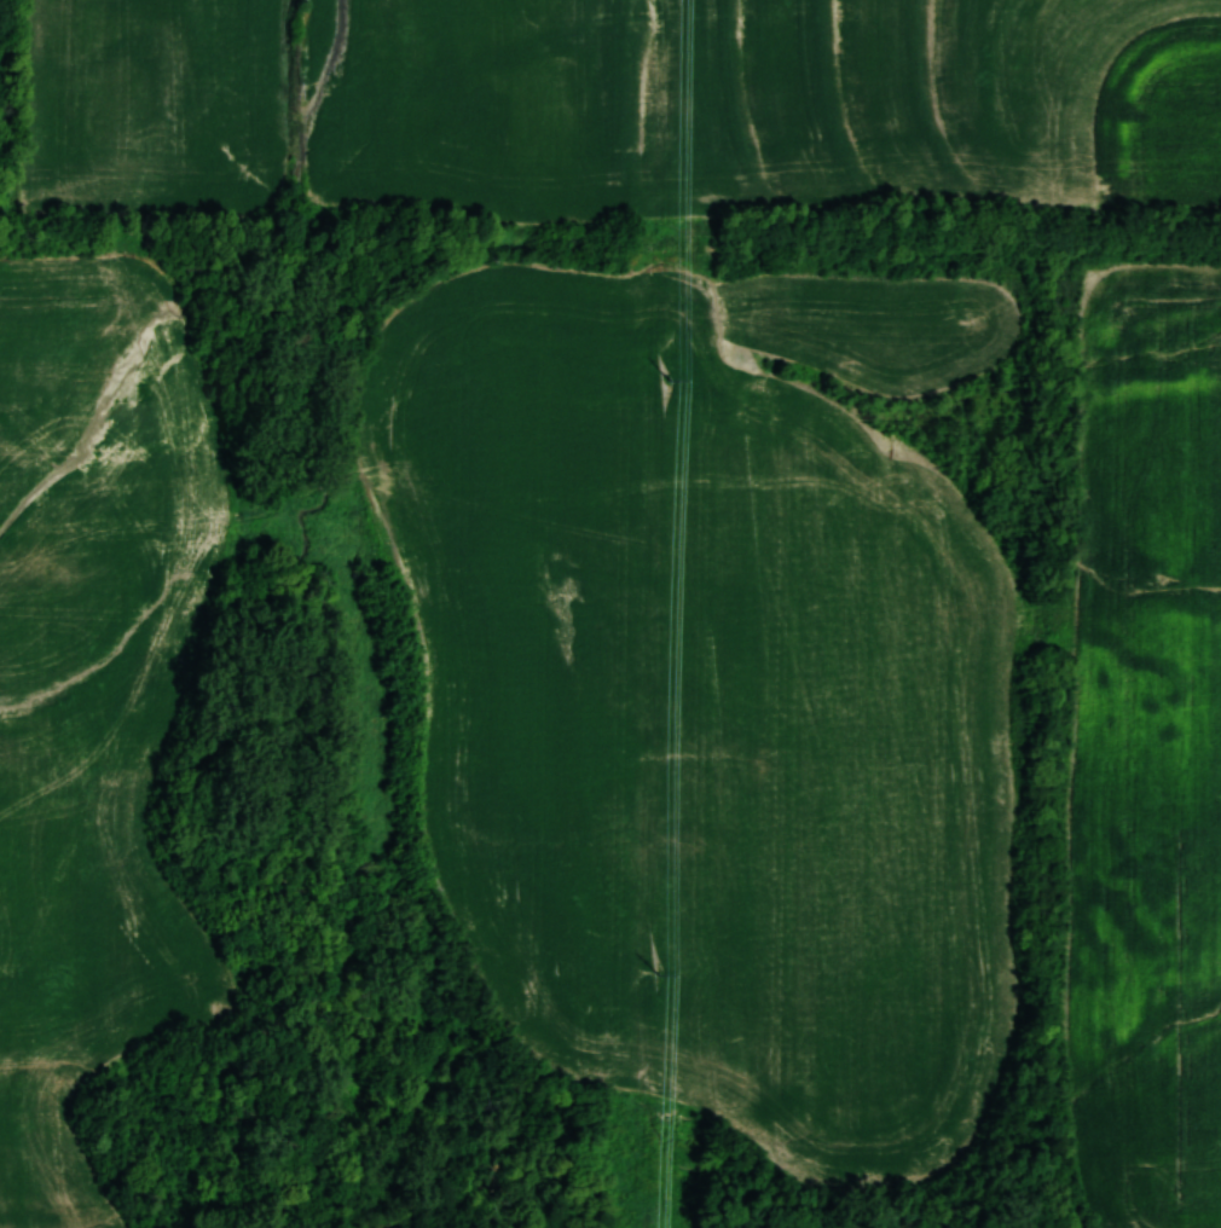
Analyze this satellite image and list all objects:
power tower: (669, 376)
power tower: (656, 1000)

